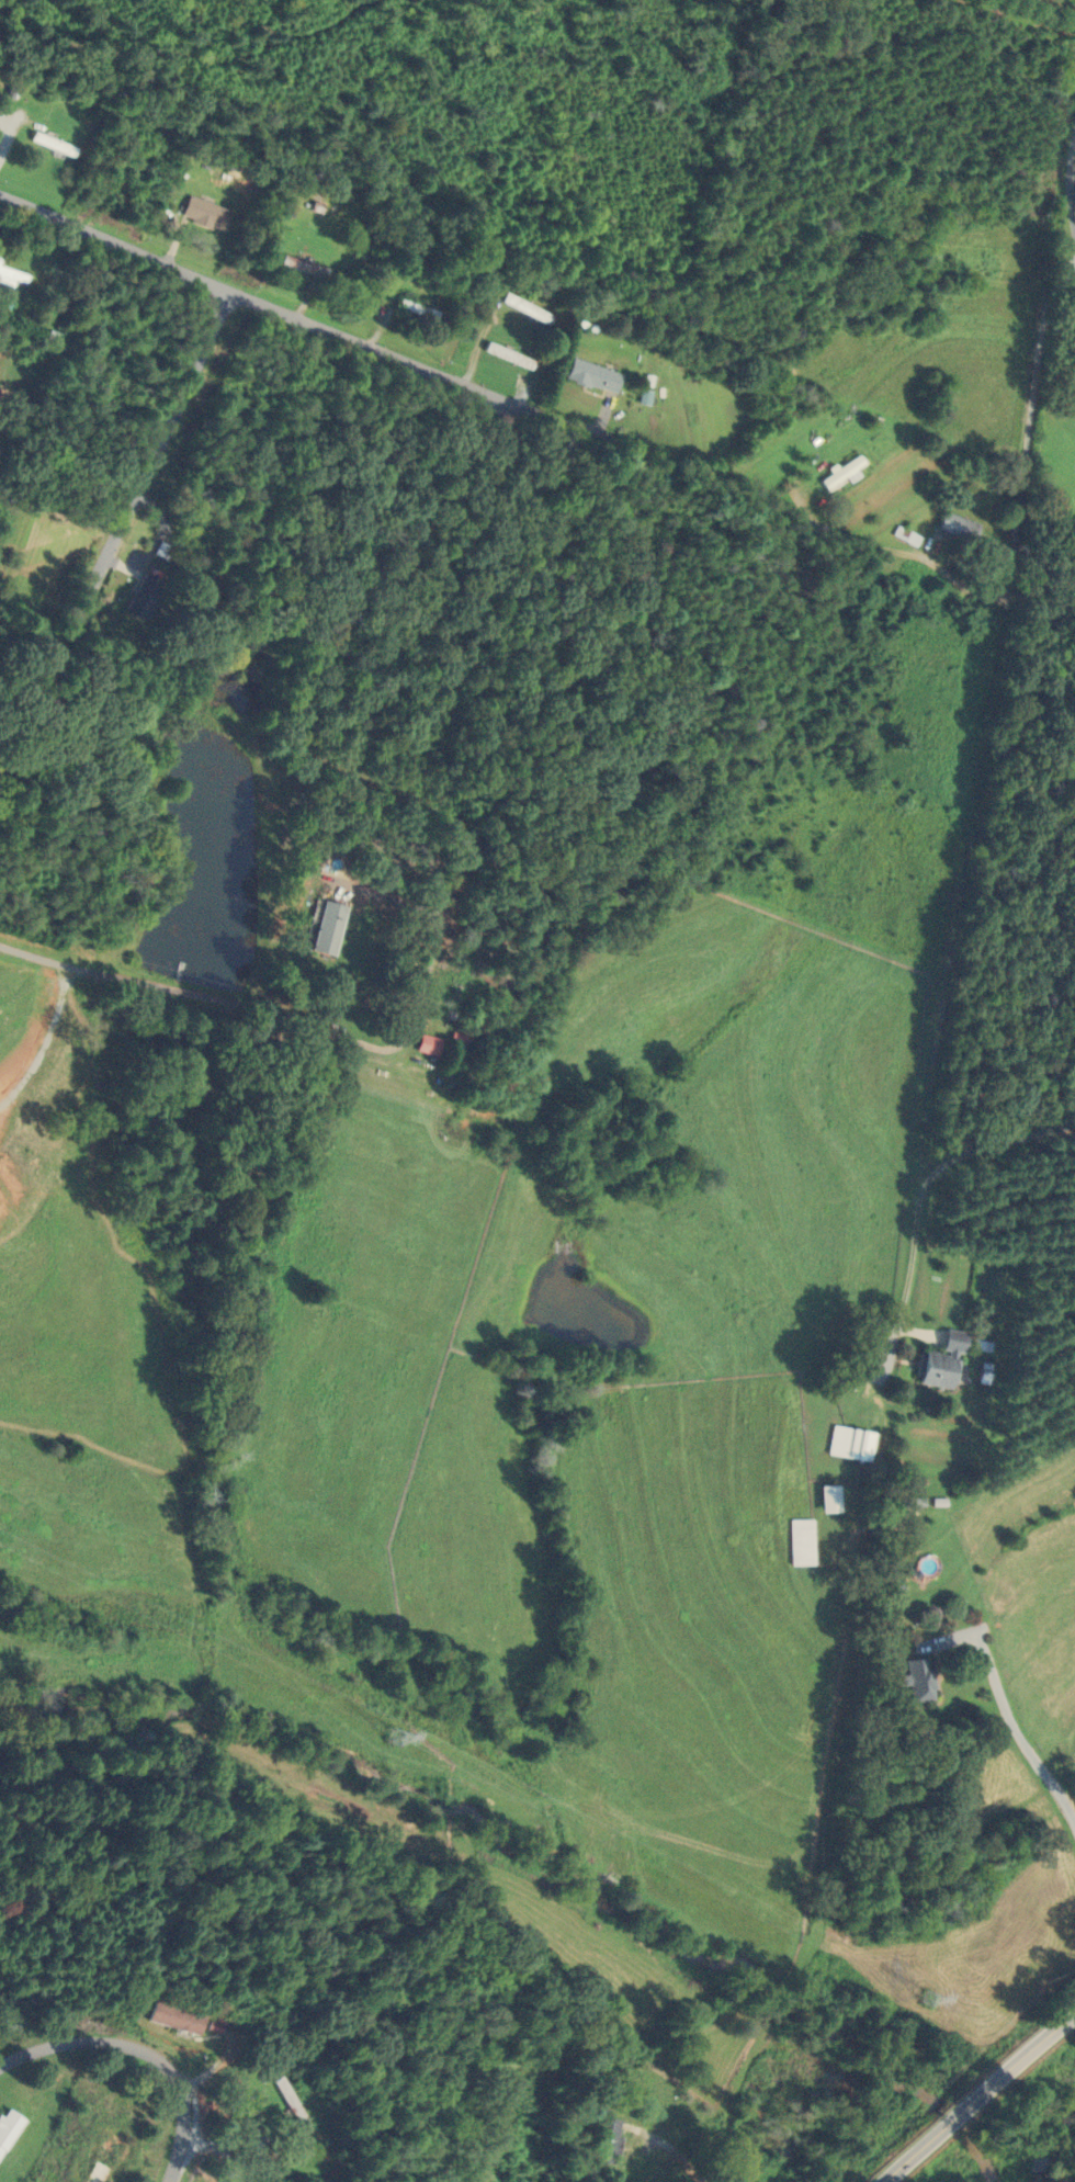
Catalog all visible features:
building: (49, 143)
road: (1072, 184)
building: (202, 213)
building: (10, 276)
building: (891, 291)
road: (207, 294)
building: (522, 306)
building: (415, 308)
building: (507, 355)
building: (591, 375)
building: (840, 473)
road: (144, 486)
building: (957, 527)
road: (892, 552)
building: (140, 597)
road: (19, 631)
building: (1074, 740)
road: (977, 781)
building: (326, 928)
road: (9, 945)
road: (320, 1028)
building: (452, 1058)
building: (936, 1370)
building: (841, 1379)
building: (848, 1445)
building: (800, 1542)
building: (917, 1680)
road: (1017, 1730)
building: (8, 2016)
building: (176, 2019)
road: (1034, 2043)
road: (143, 2055)
road: (938, 2128)
building: (607, 2140)
road: (672, 2147)
building: (103, 2155)

